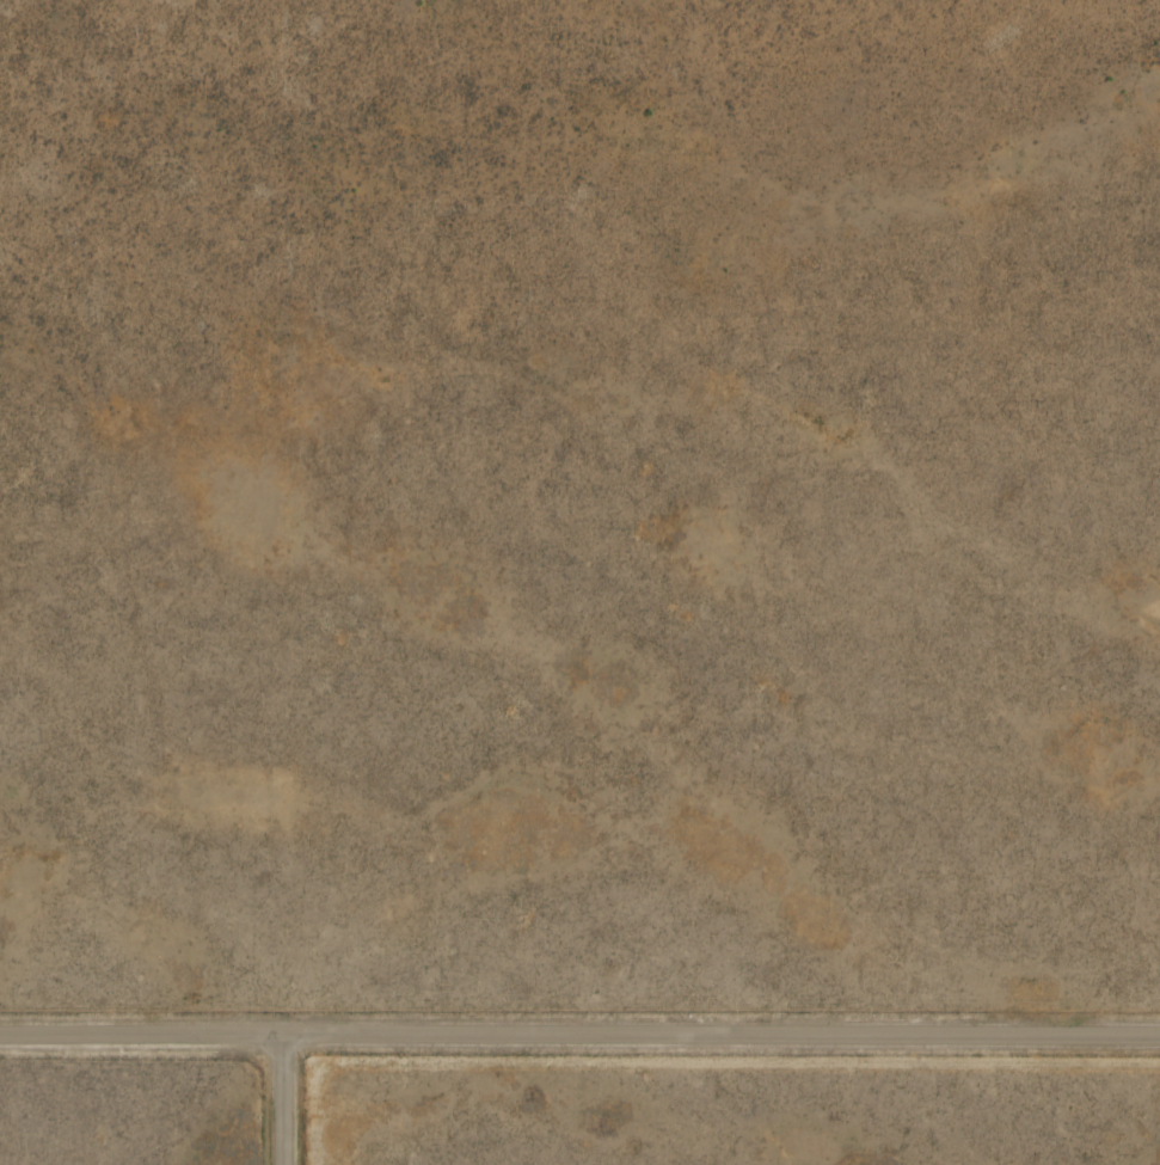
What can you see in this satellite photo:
road: (579, 1049)
road: (287, 1106)

